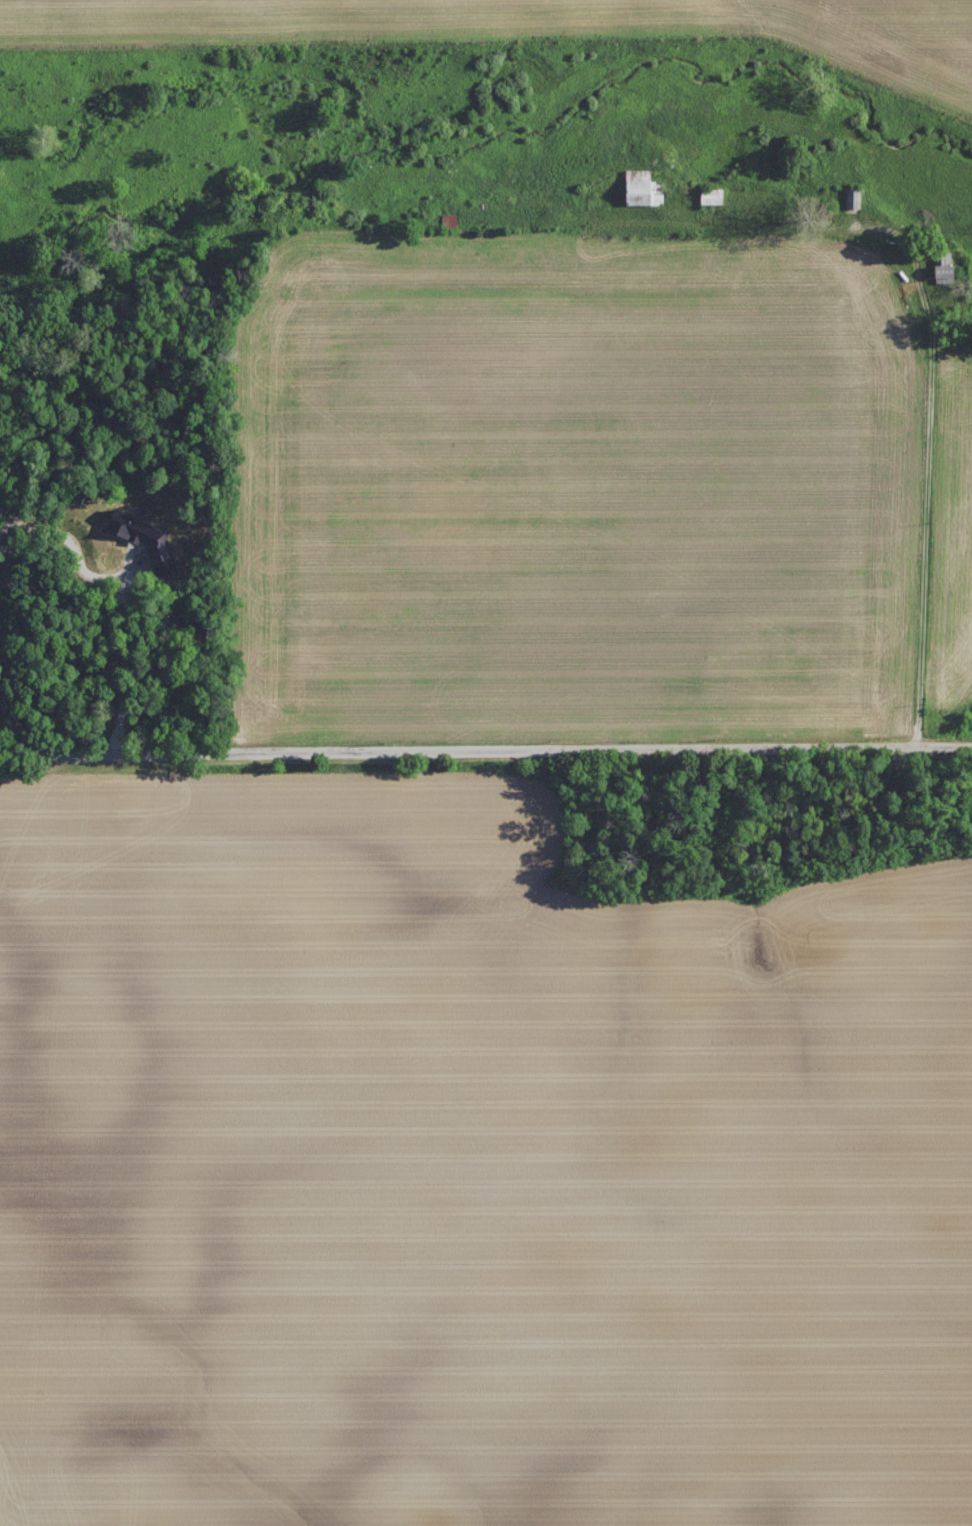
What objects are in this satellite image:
building: (645, 187)
building: (946, 267)
road: (916, 482)
building: (135, 528)
road: (3, 633)
road: (521, 751)

